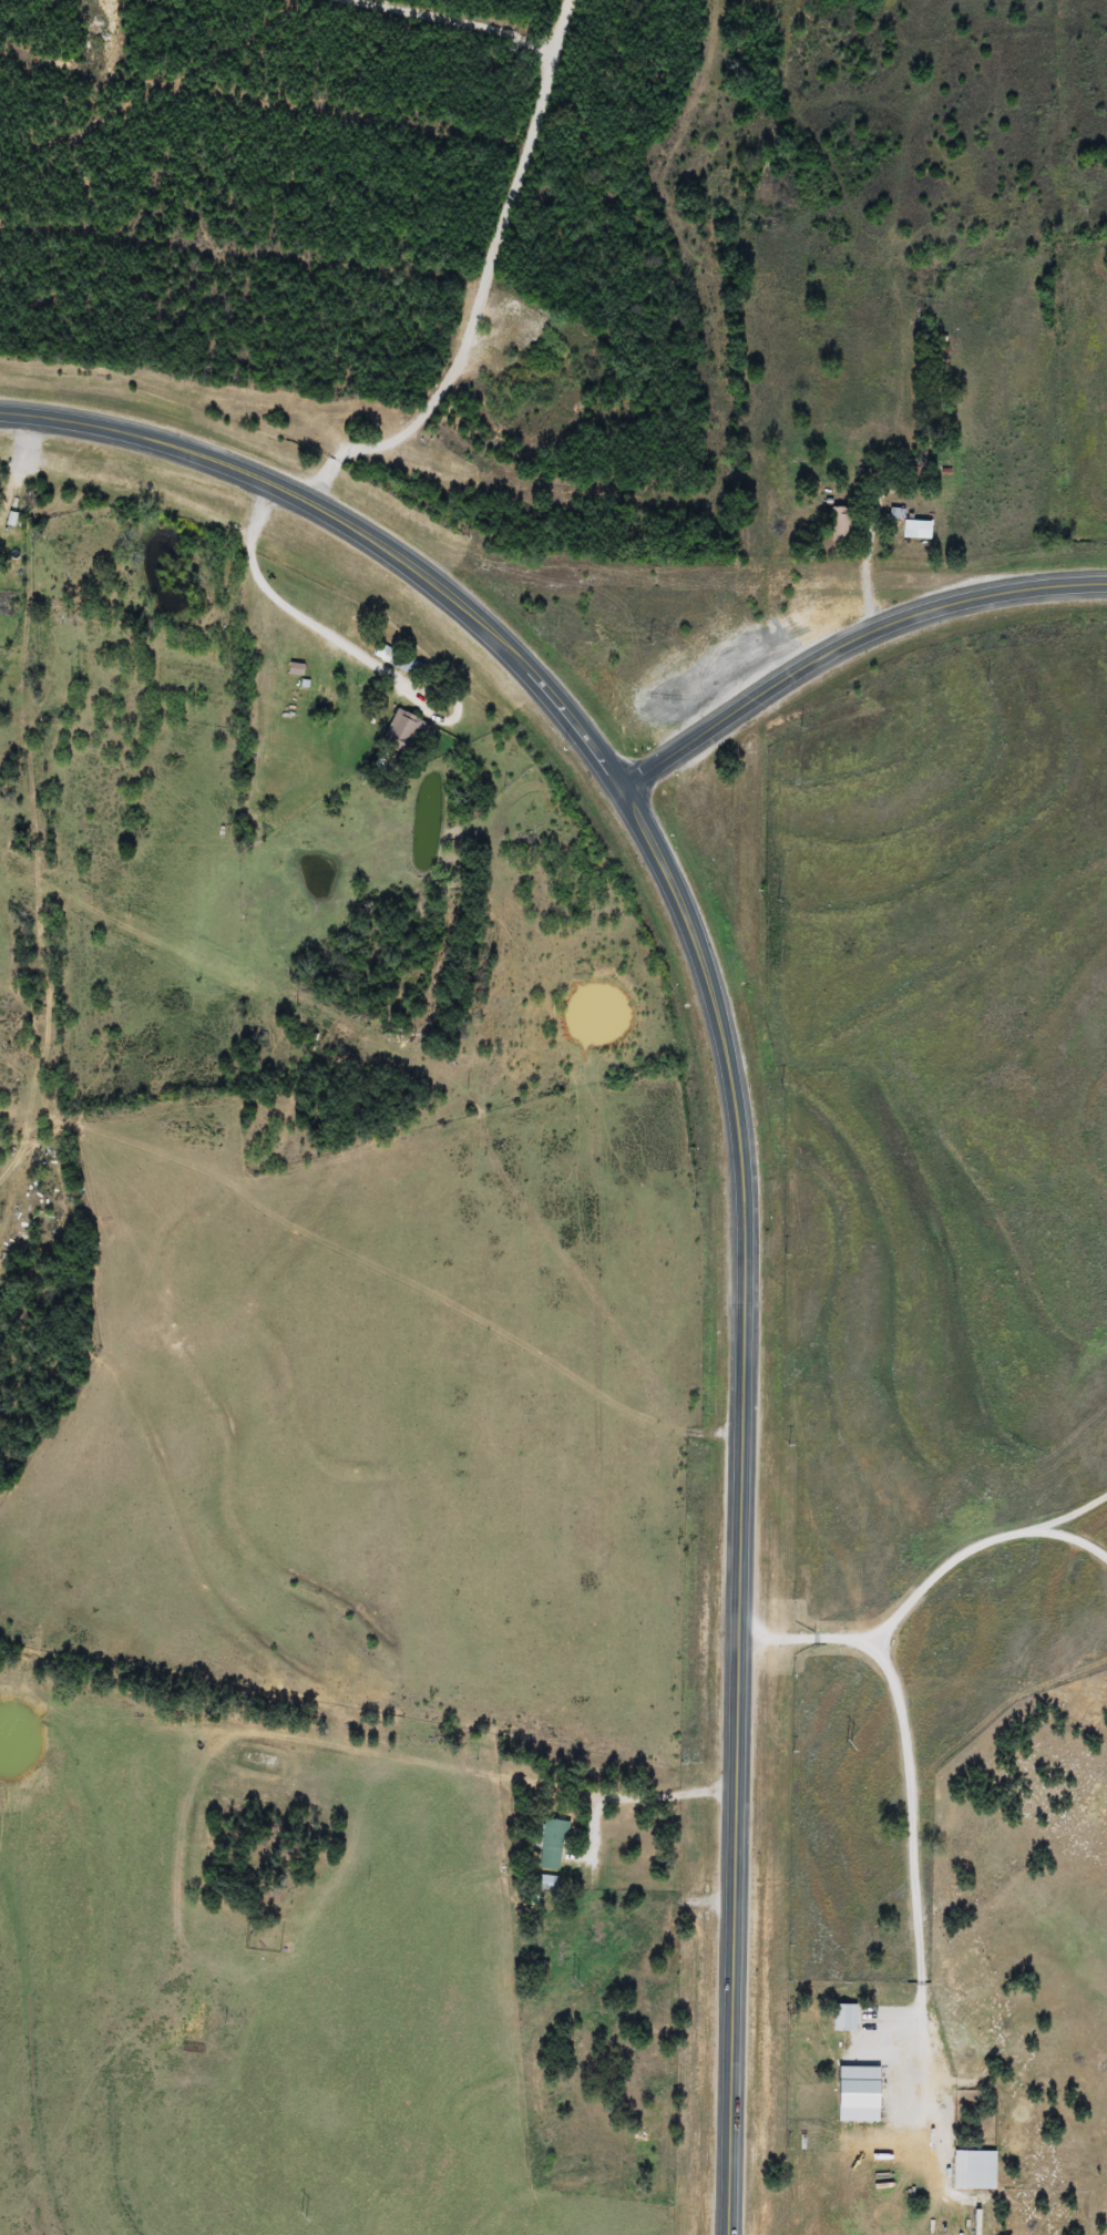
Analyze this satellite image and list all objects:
building: (838, 524)
building: (915, 530)
road: (357, 531)
road: (848, 647)
building: (701, 658)
building: (399, 662)
building: (294, 668)
building: (401, 734)
road: (742, 1504)
building: (550, 1845)
building: (546, 1883)
building: (956, 2172)

